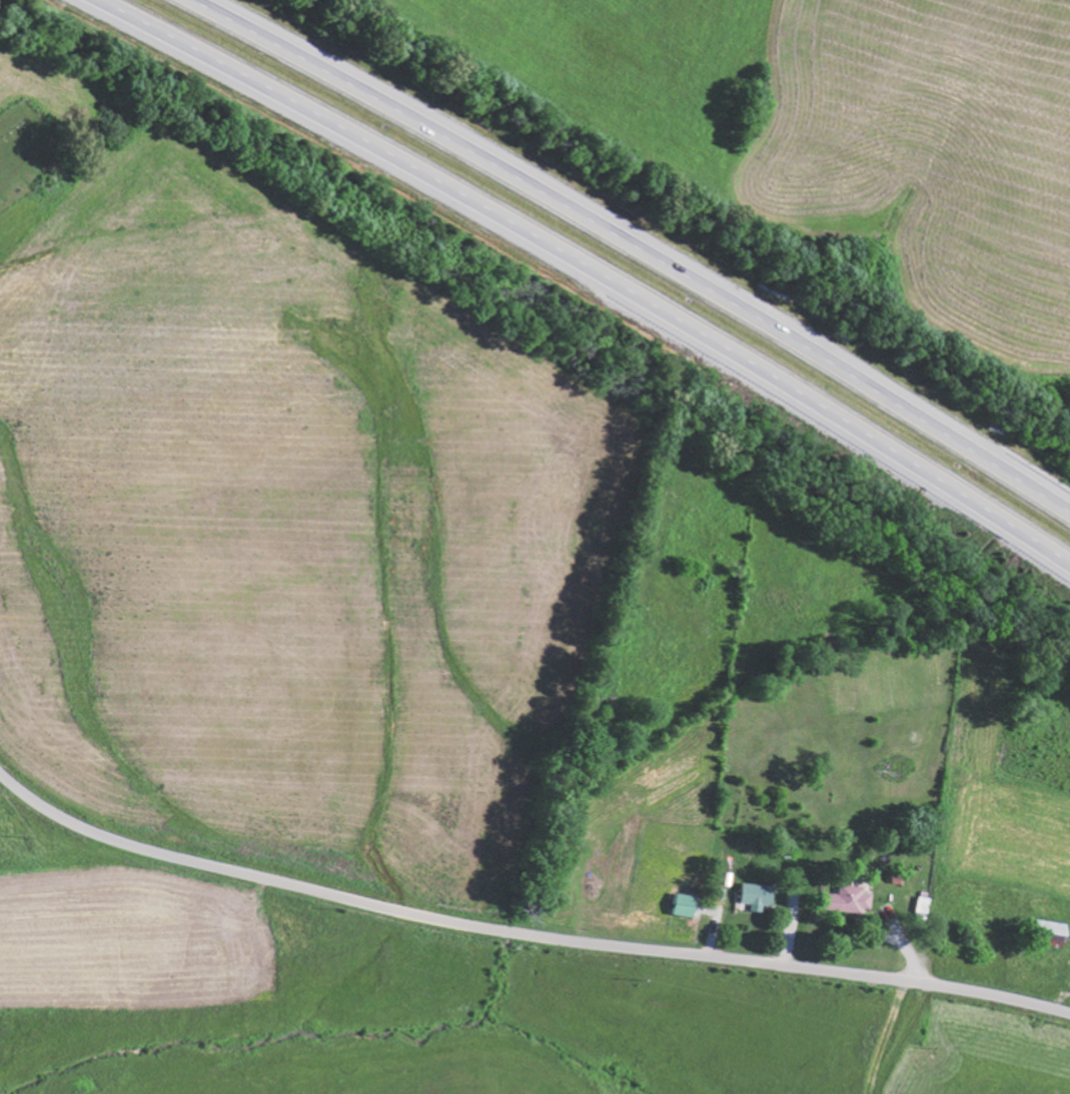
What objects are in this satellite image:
road: (639, 245)
road: (593, 266)
building: (761, 895)
building: (851, 898)
building: (686, 904)
building: (1054, 932)
road: (521, 936)

